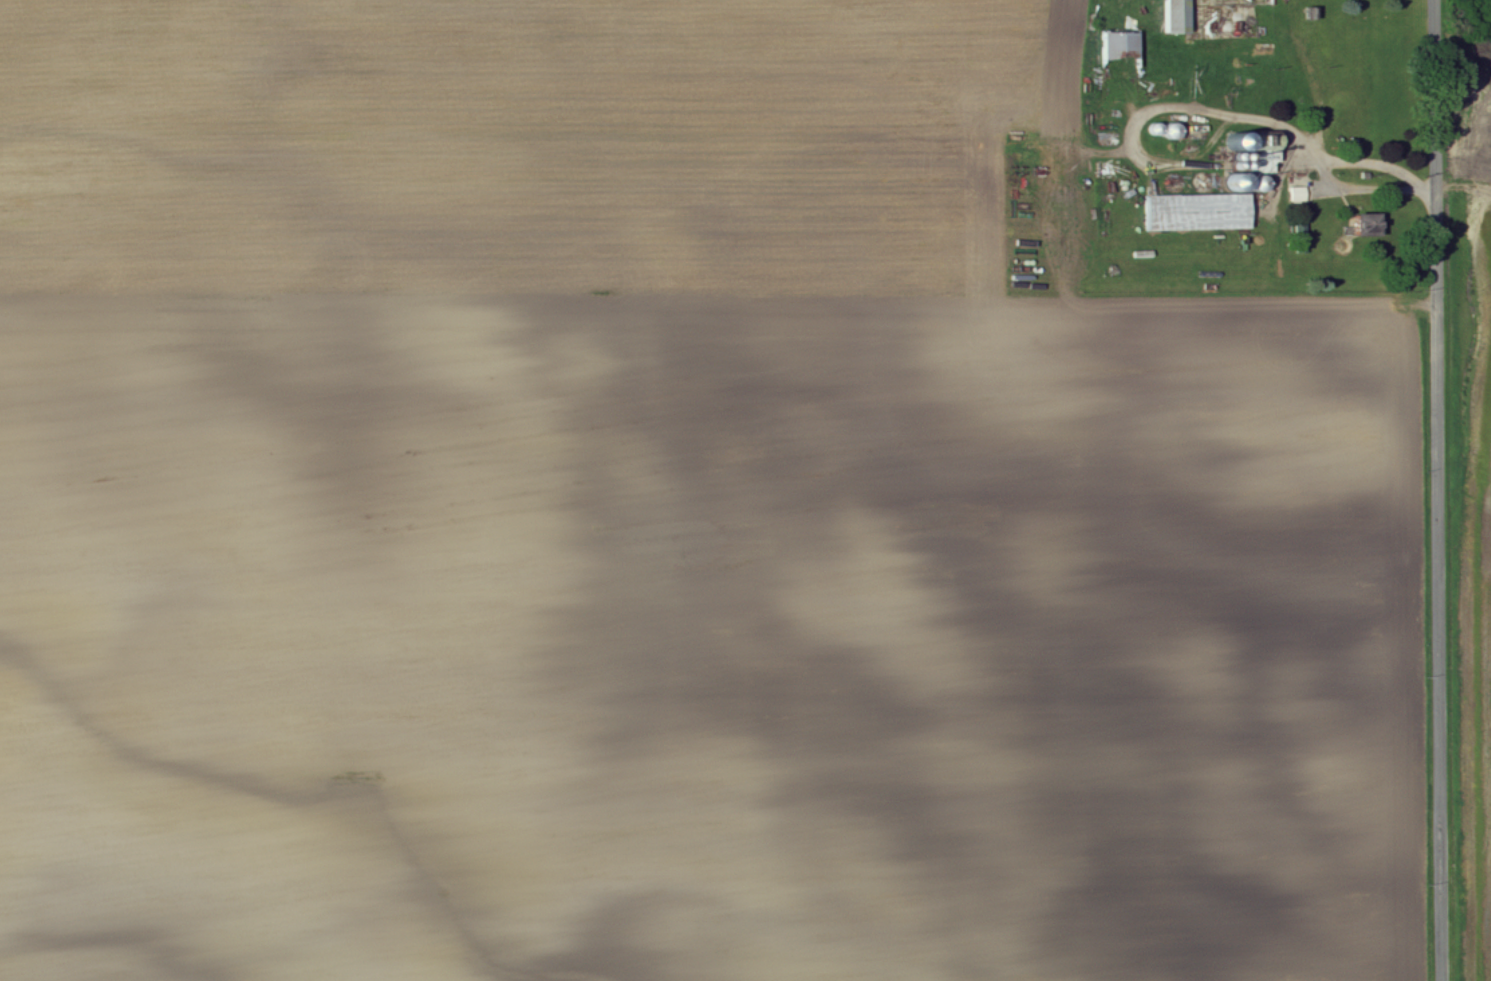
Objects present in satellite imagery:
building: (1178, 17)
building: (1122, 46)
building: (1299, 195)
building: (1369, 227)
road: (1437, 490)
road: (1279, 501)

